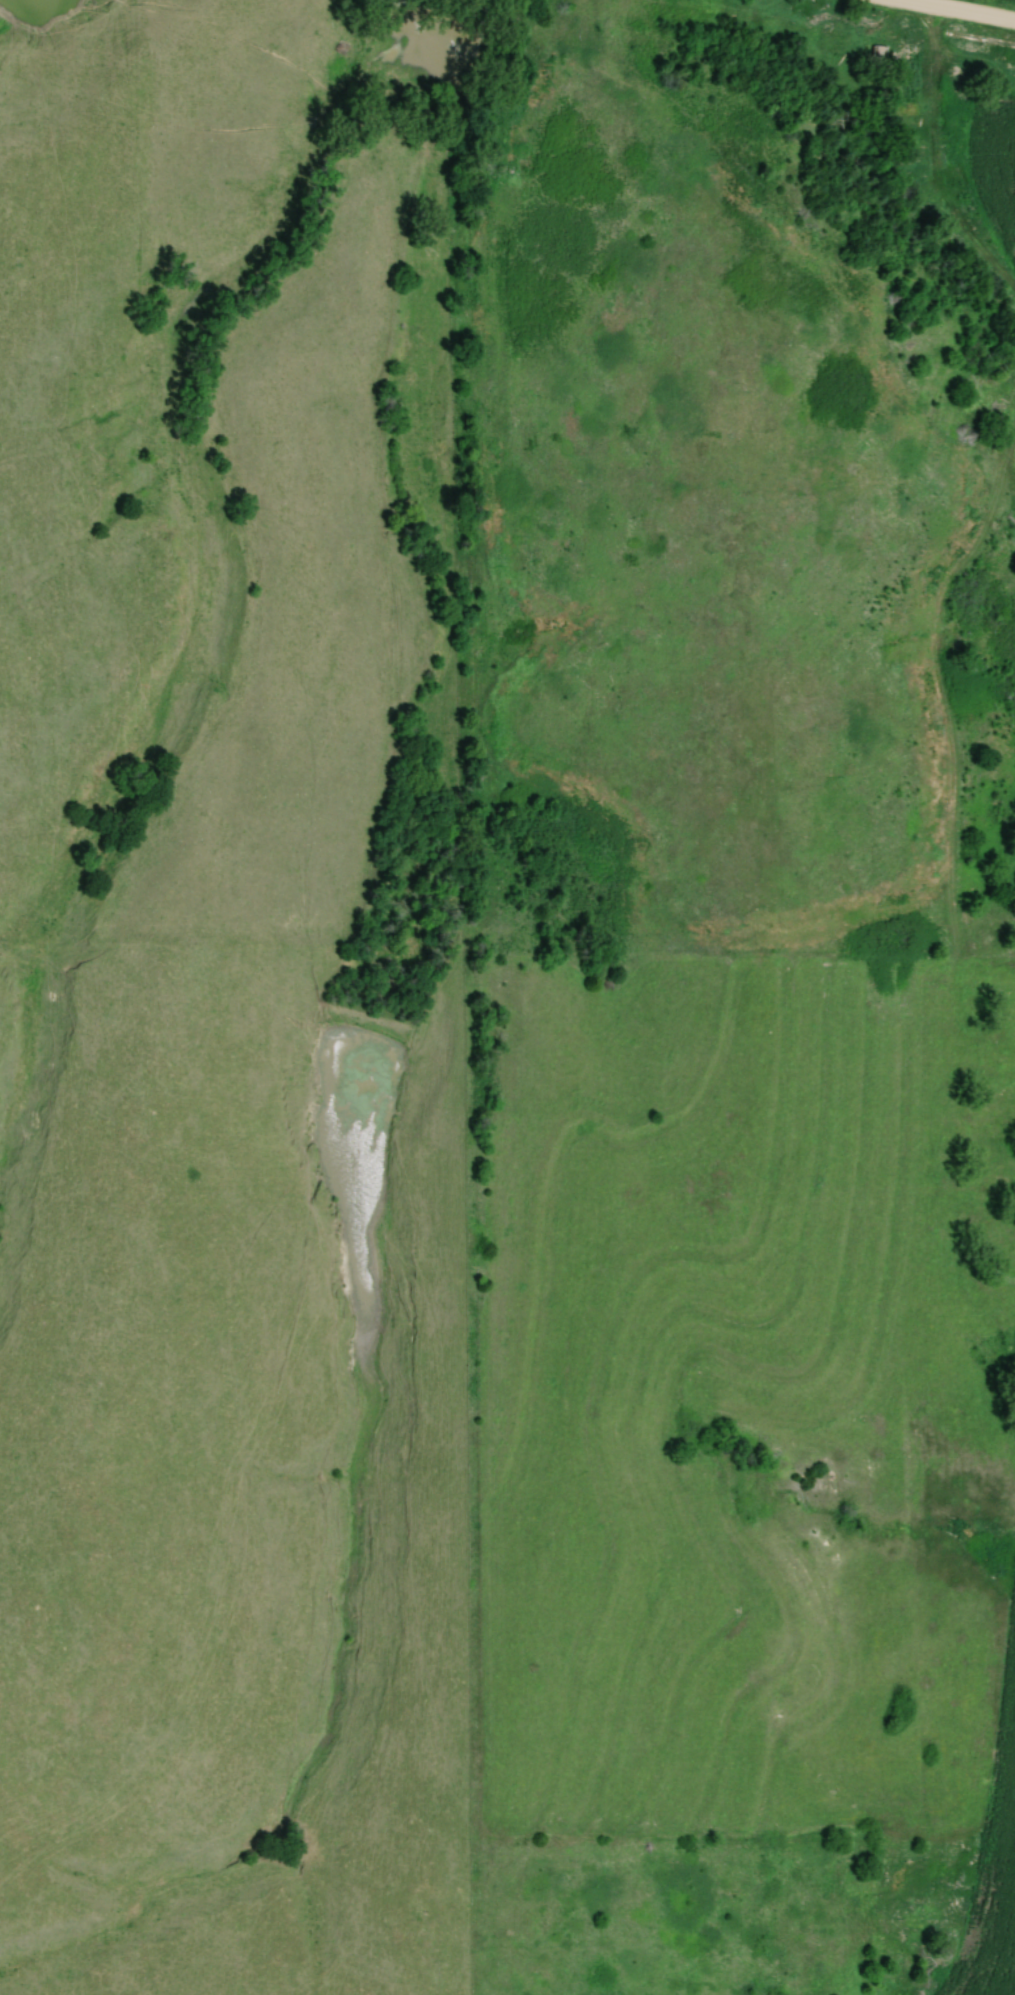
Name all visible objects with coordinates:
road: (954, 12)

